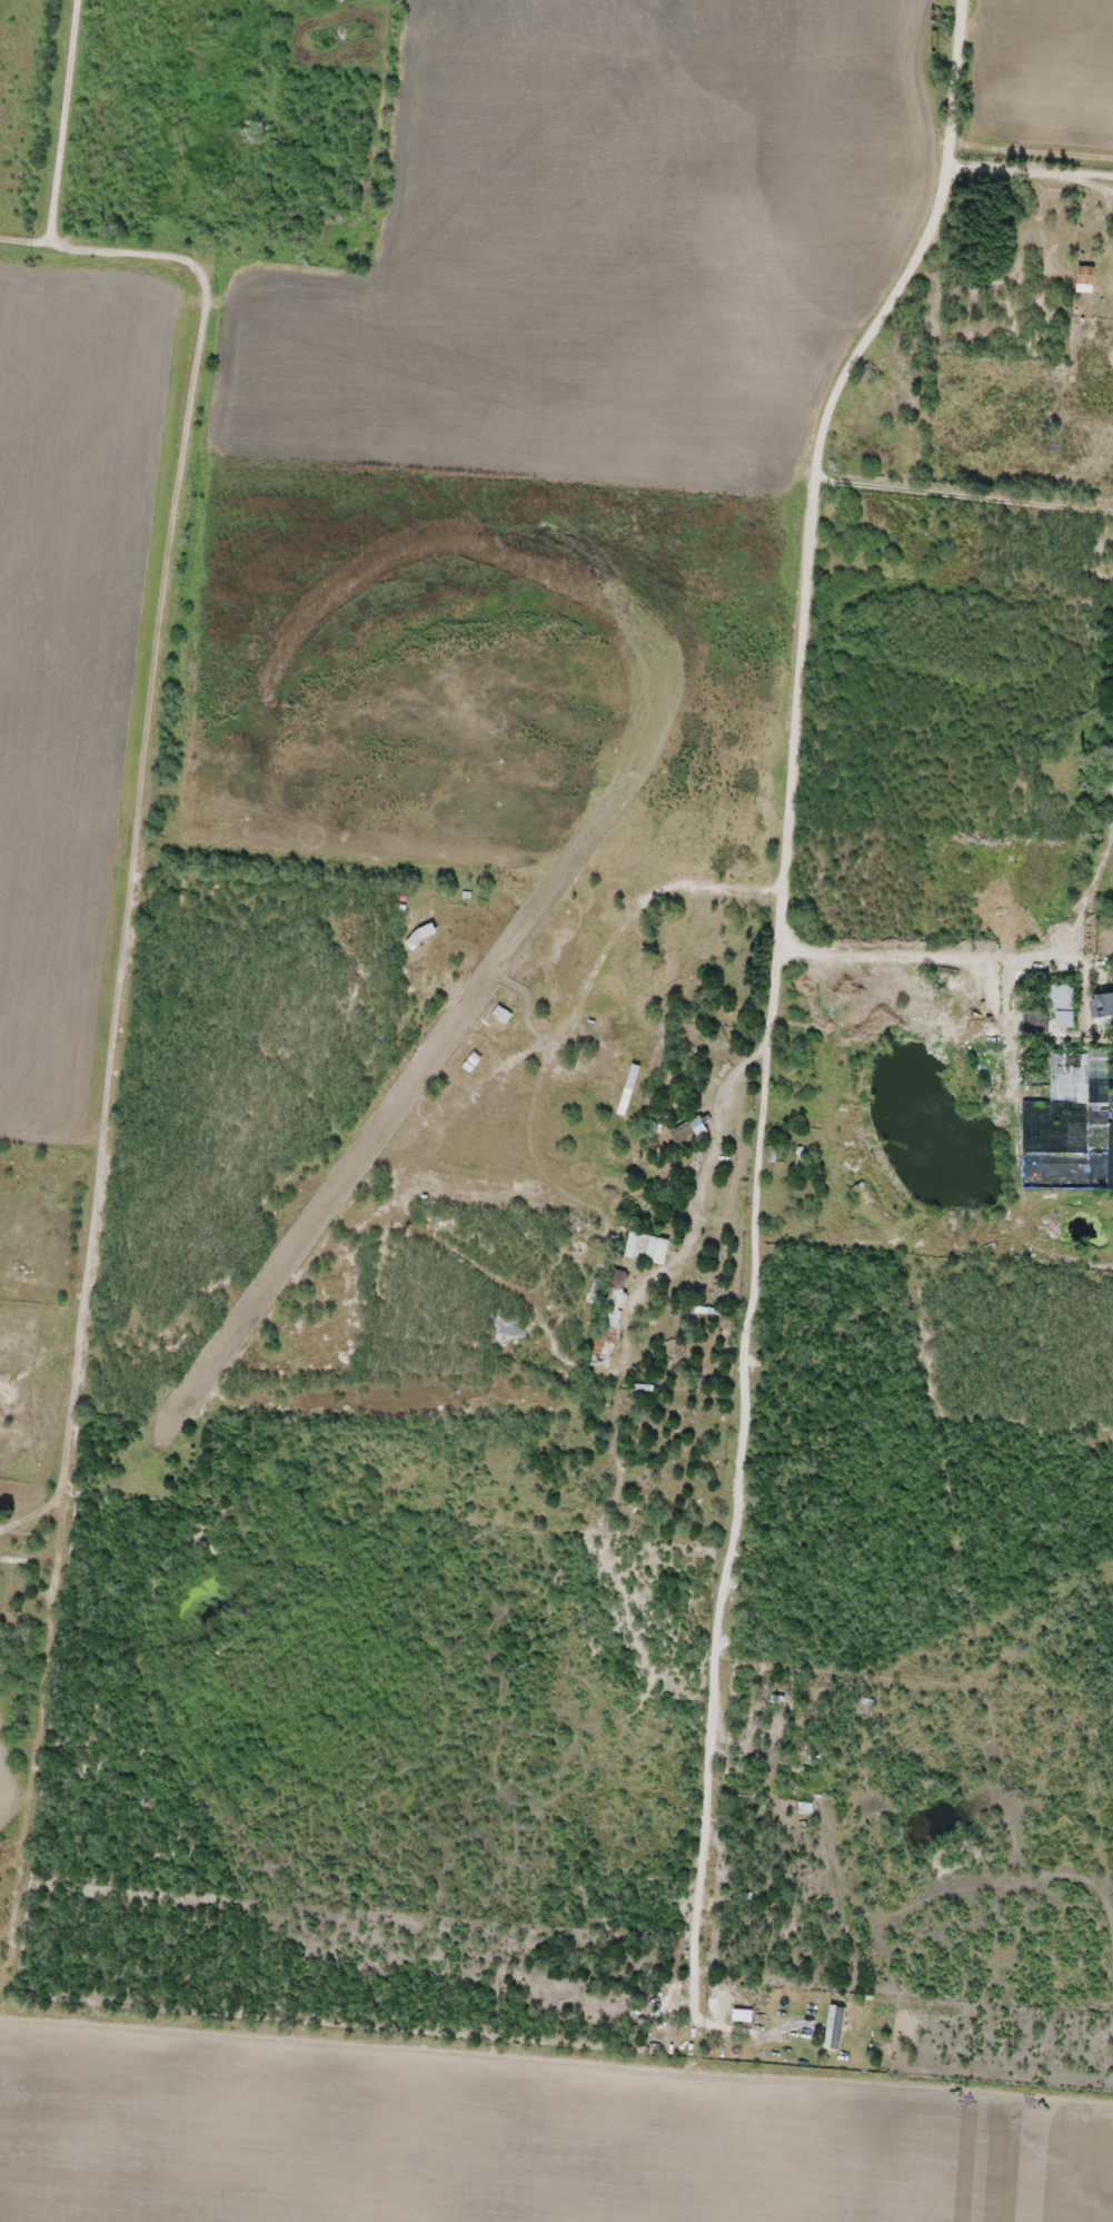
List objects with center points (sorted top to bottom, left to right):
park: (346, 38)
road: (62, 121)
road: (1030, 156)
road: (1028, 171)
road: (24, 240)
building: (1086, 274)
road: (965, 495)
road: (809, 524)
building: (1111, 754)
road: (147, 812)
building: (1105, 919)
building: (735, 982)
building: (1105, 1004)
building: (1053, 1013)
building: (689, 1129)
building: (643, 1245)
building: (610, 1319)
building: (17, 1549)
road: (556, 1975)

